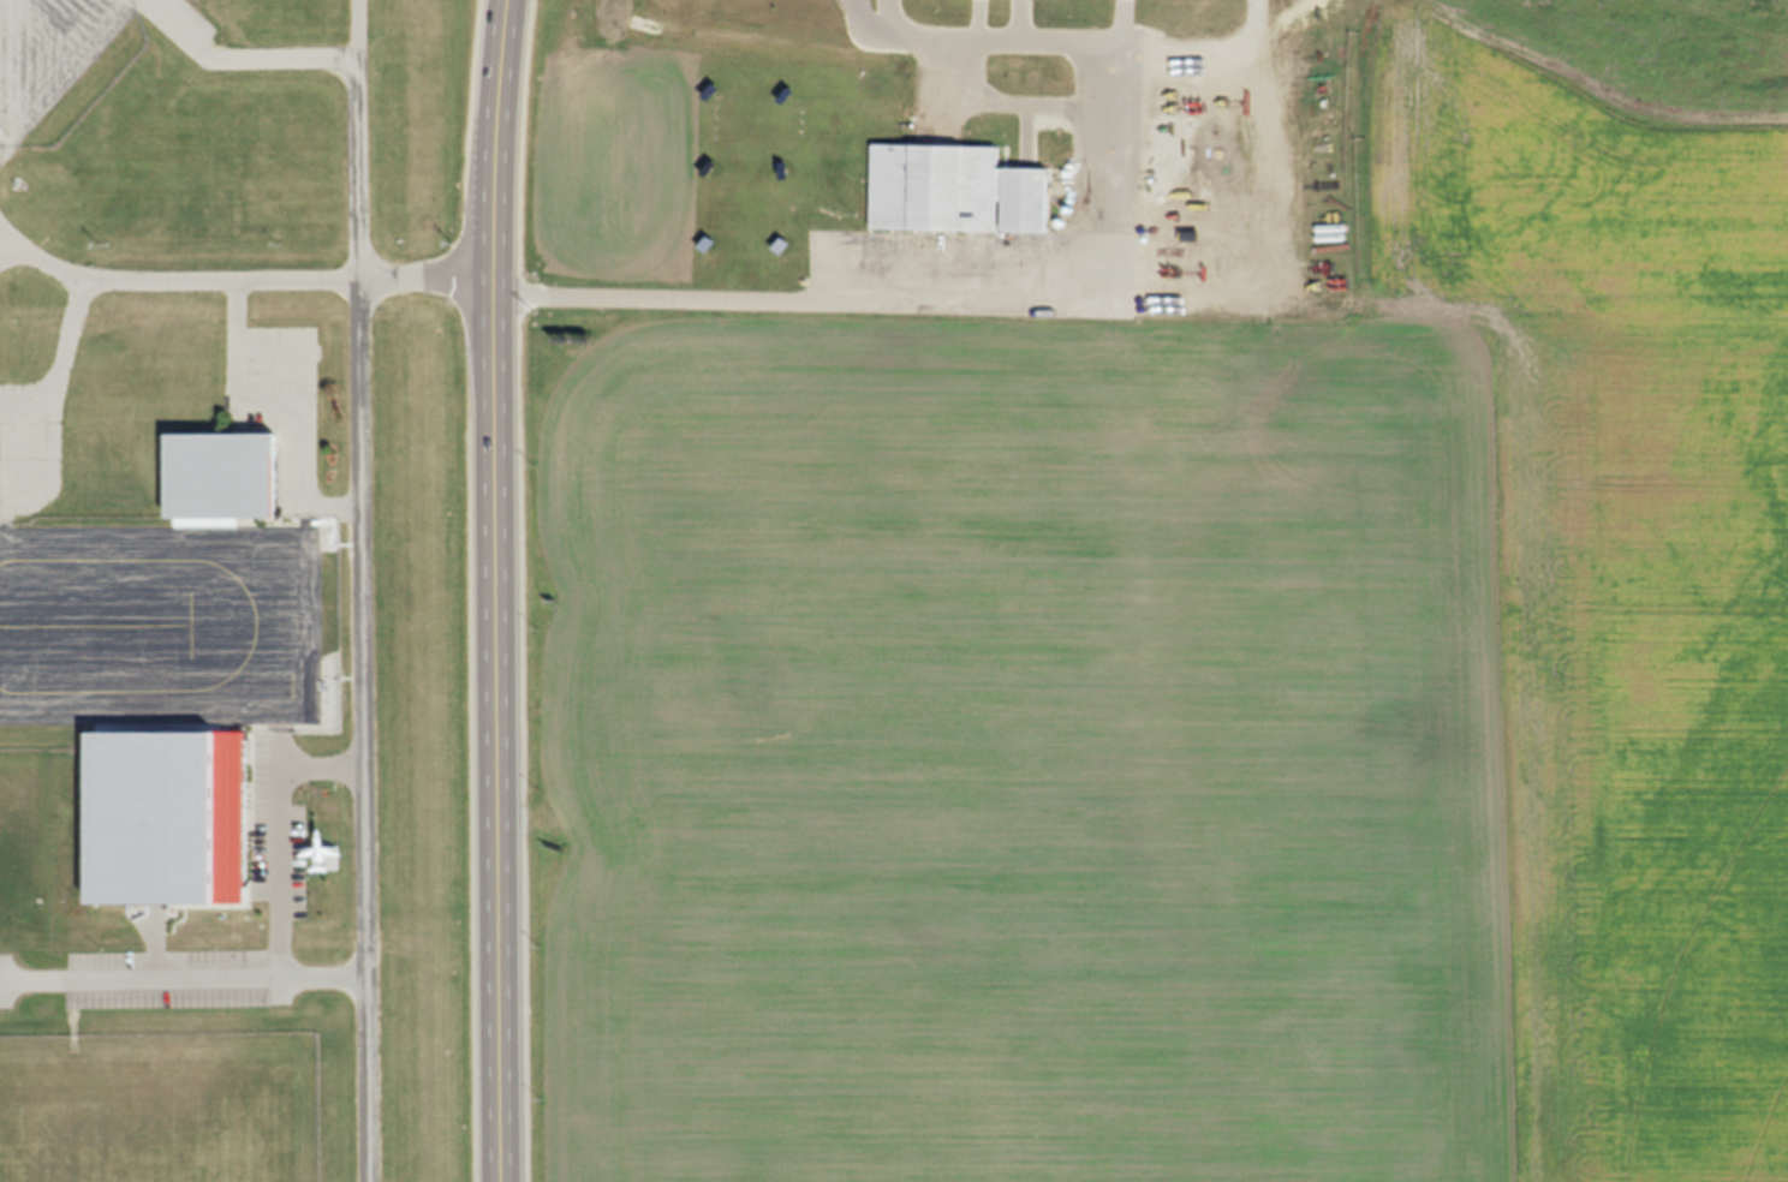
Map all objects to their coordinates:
airport apron: (48, 52)
crop: (598, 151)
building: (949, 189)
road: (260, 279)
road: (1056, 287)
airport hangar: (222, 476)
building: (222, 476)
road: (360, 551)
road: (503, 590)
airport: (236, 592)
airport apron: (160, 621)
crop: (1197, 681)
road: (189, 979)

